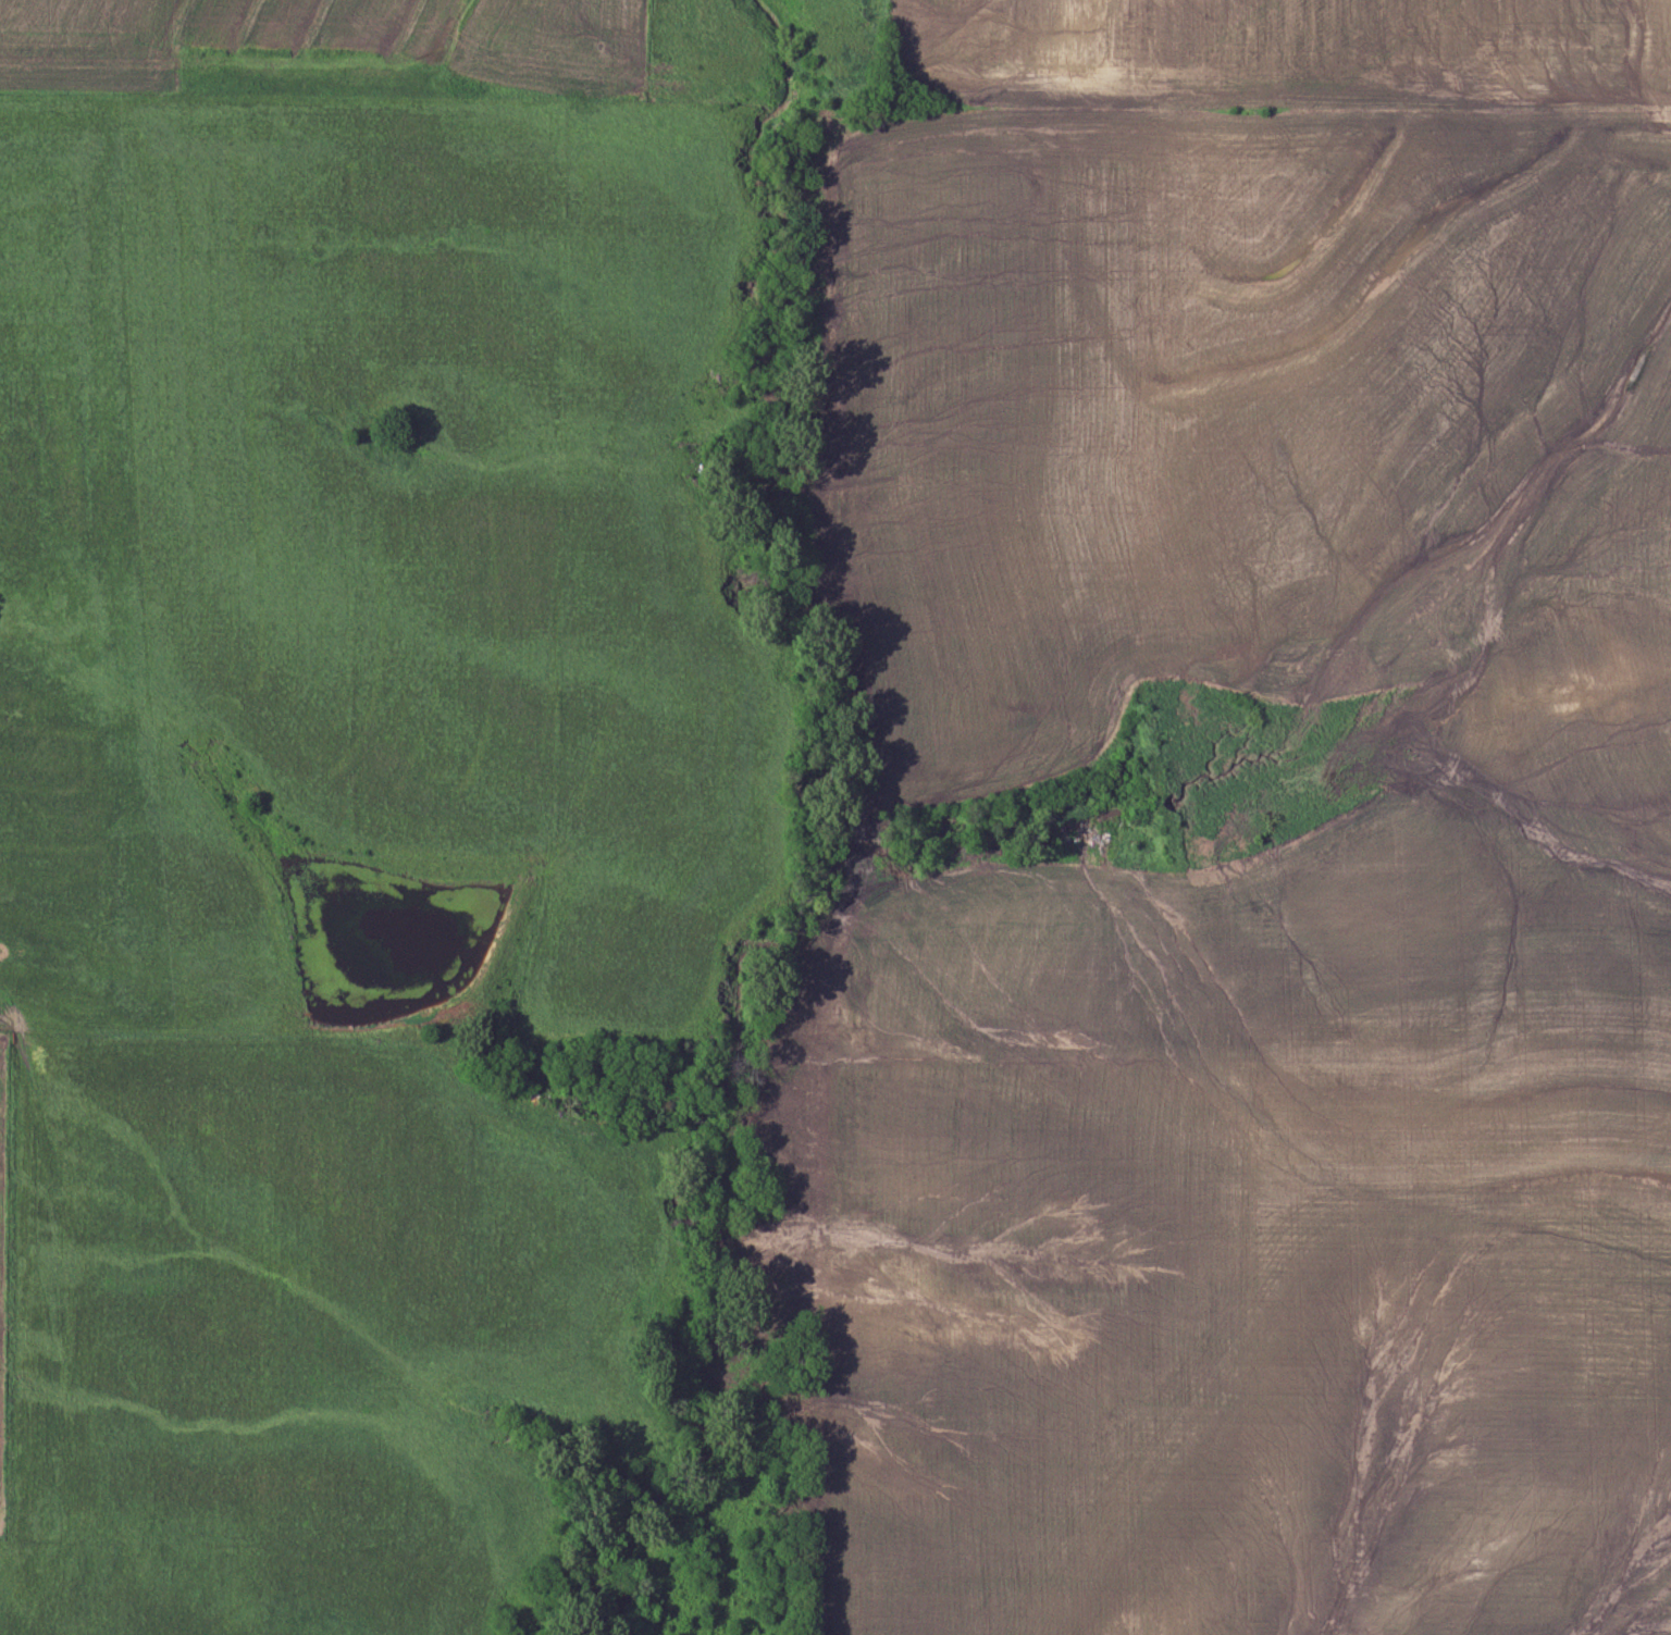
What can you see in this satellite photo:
crop: (1286, 52)
crop: (1166, 384)
crop: (1287, 1185)

